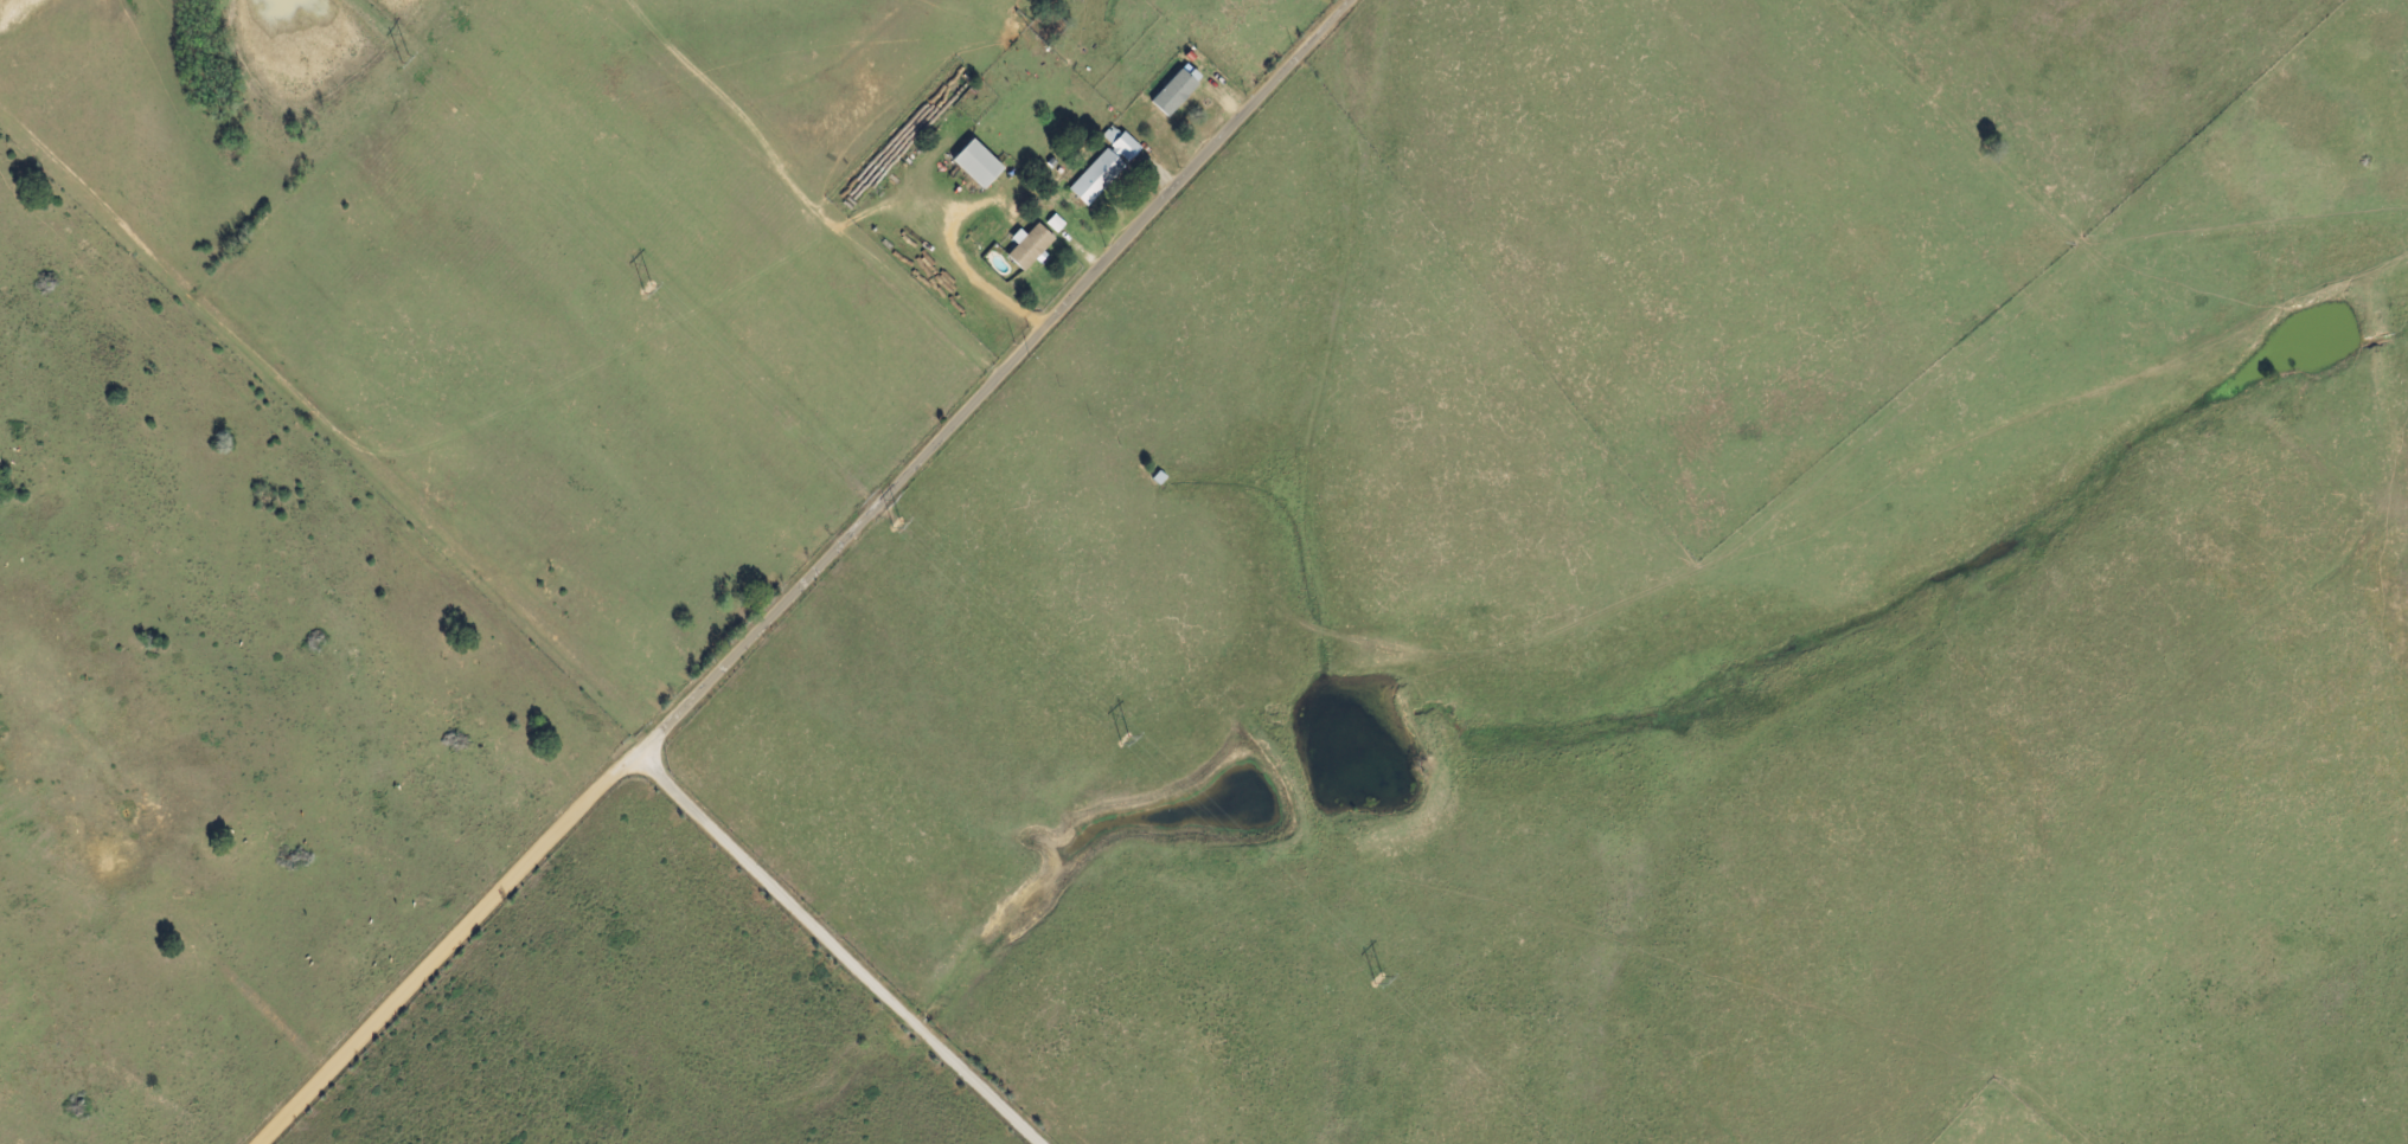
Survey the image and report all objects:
power tower: (395, 58)
building: (1177, 91)
building: (978, 165)
building: (1106, 166)
building: (1030, 248)
power tower: (639, 285)
road: (961, 285)
power tower: (892, 528)
road: (812, 579)
power tower: (1117, 738)
road: (838, 950)
power tower: (1372, 981)

